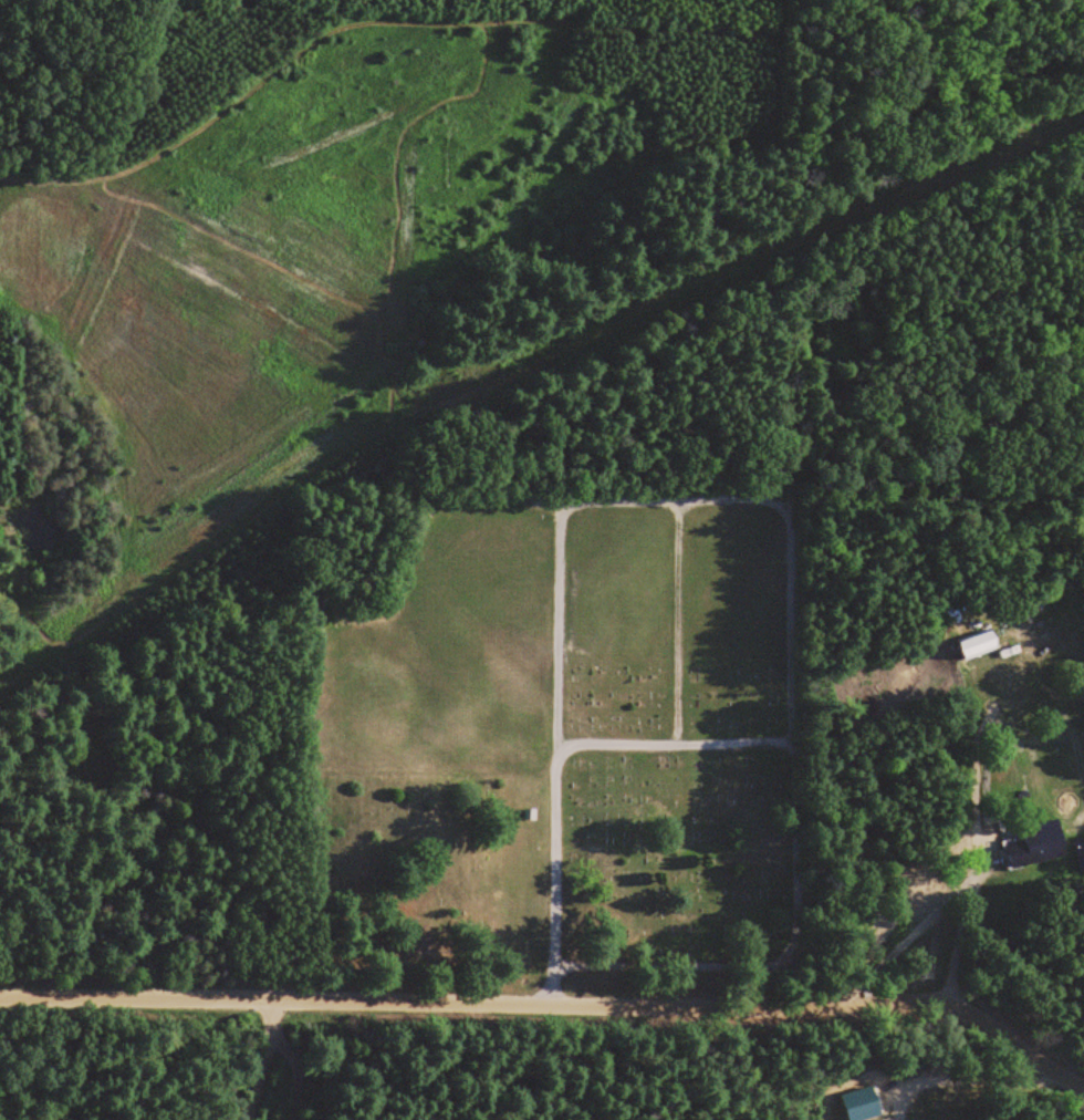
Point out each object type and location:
road: (667, 499)
road: (674, 622)
building: (980, 645)
park: (553, 742)
road: (566, 746)
building: (77, 756)
building: (1038, 844)
building: (1080, 853)
road: (636, 966)
road: (555, 1000)

